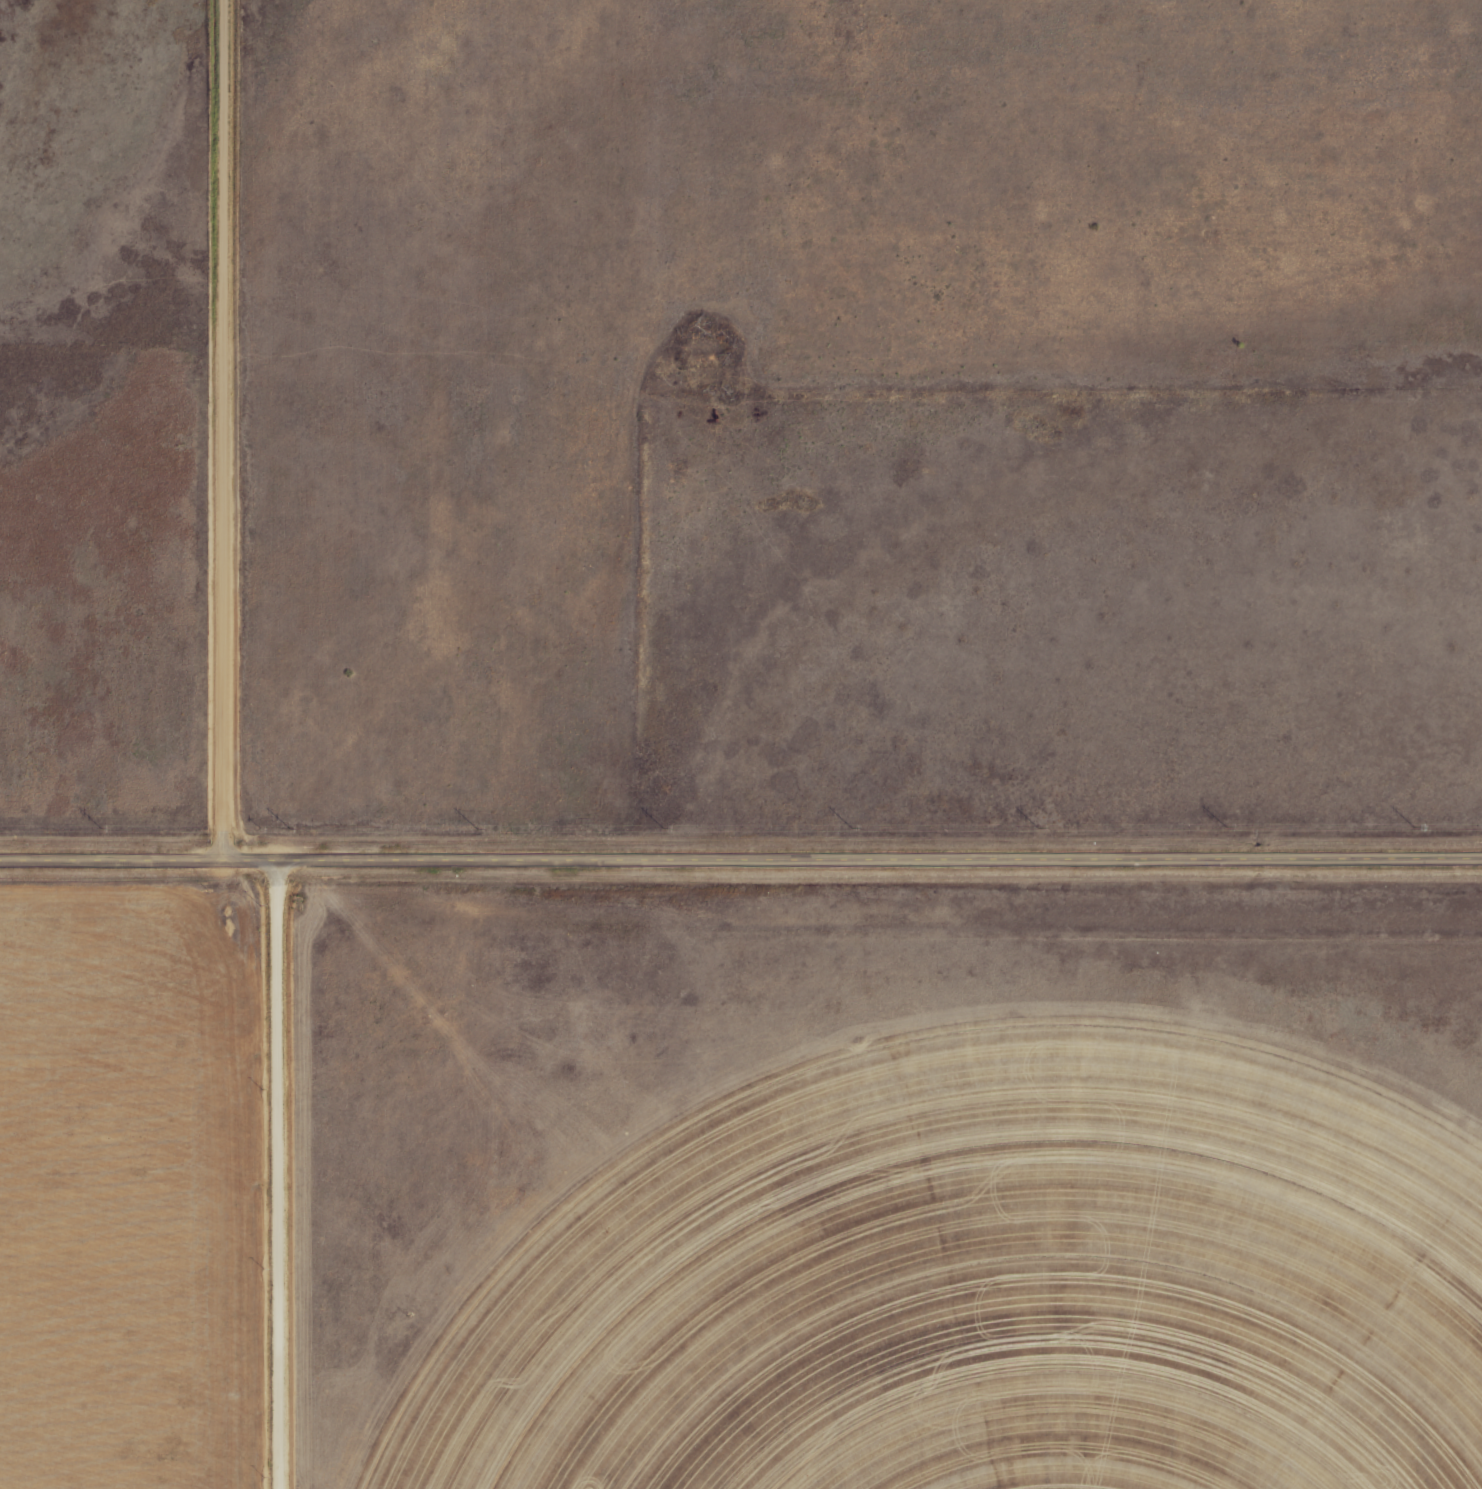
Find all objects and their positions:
road: (213, 432)
road: (740, 864)
road: (280, 1178)

